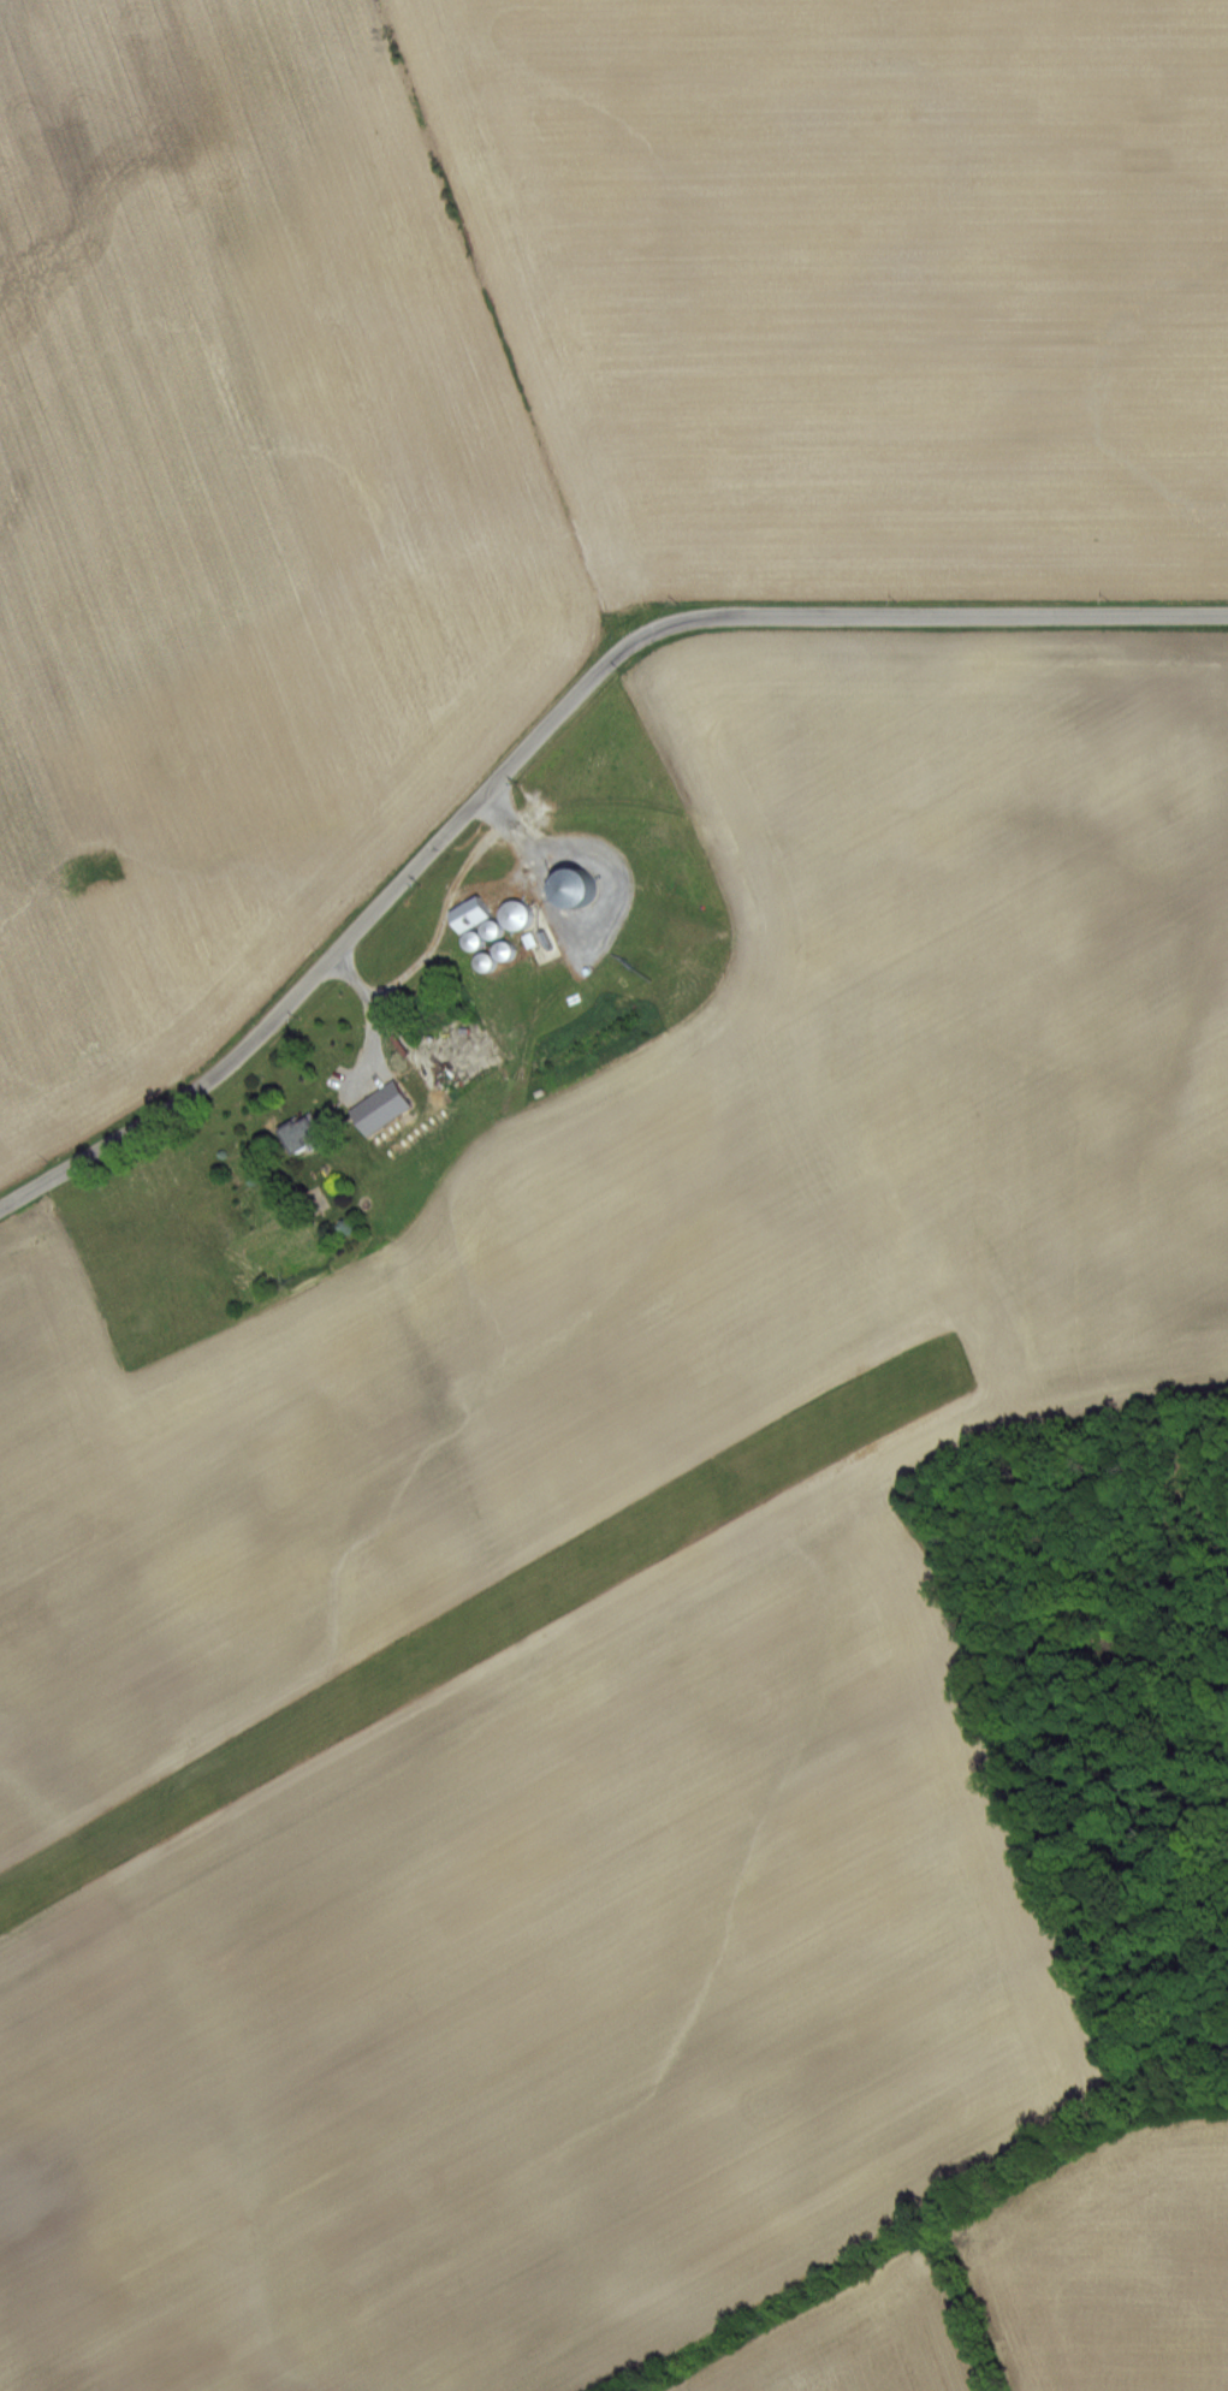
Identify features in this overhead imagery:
crop: (521, 425)
road: (541, 724)
building: (585, 886)
road: (450, 895)
building: (476, 913)
building: (522, 914)
building: (493, 961)
crop: (977, 967)
road: (372, 1003)
building: (384, 1108)
building: (308, 1135)
crop: (493, 1792)

